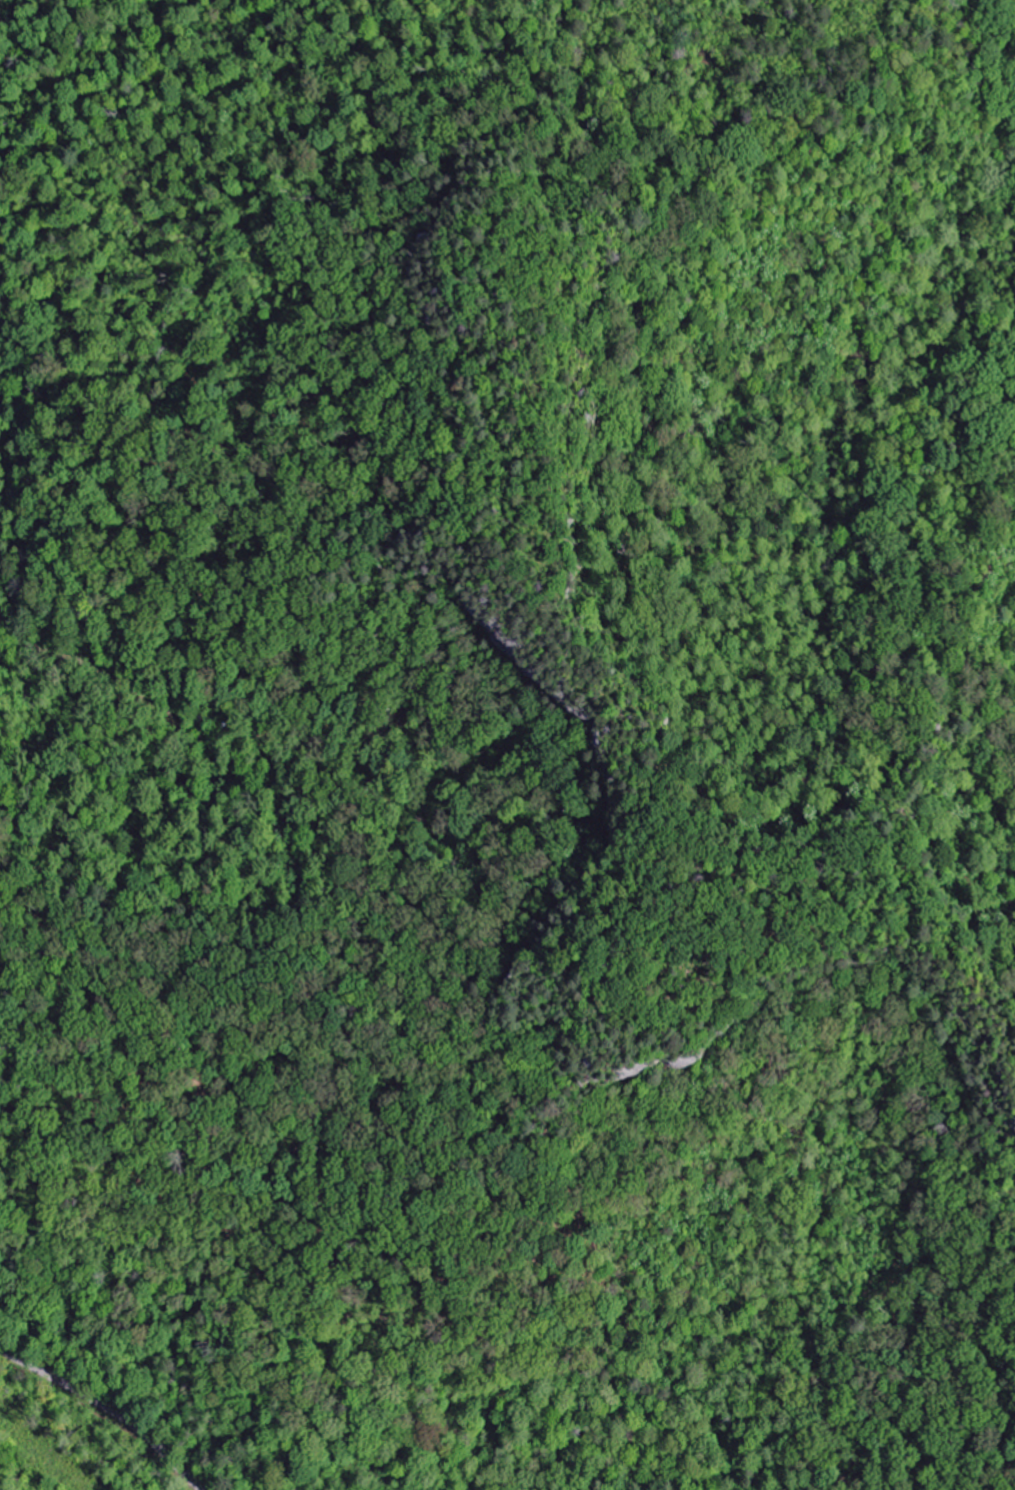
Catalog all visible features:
road: (109, 1413)

